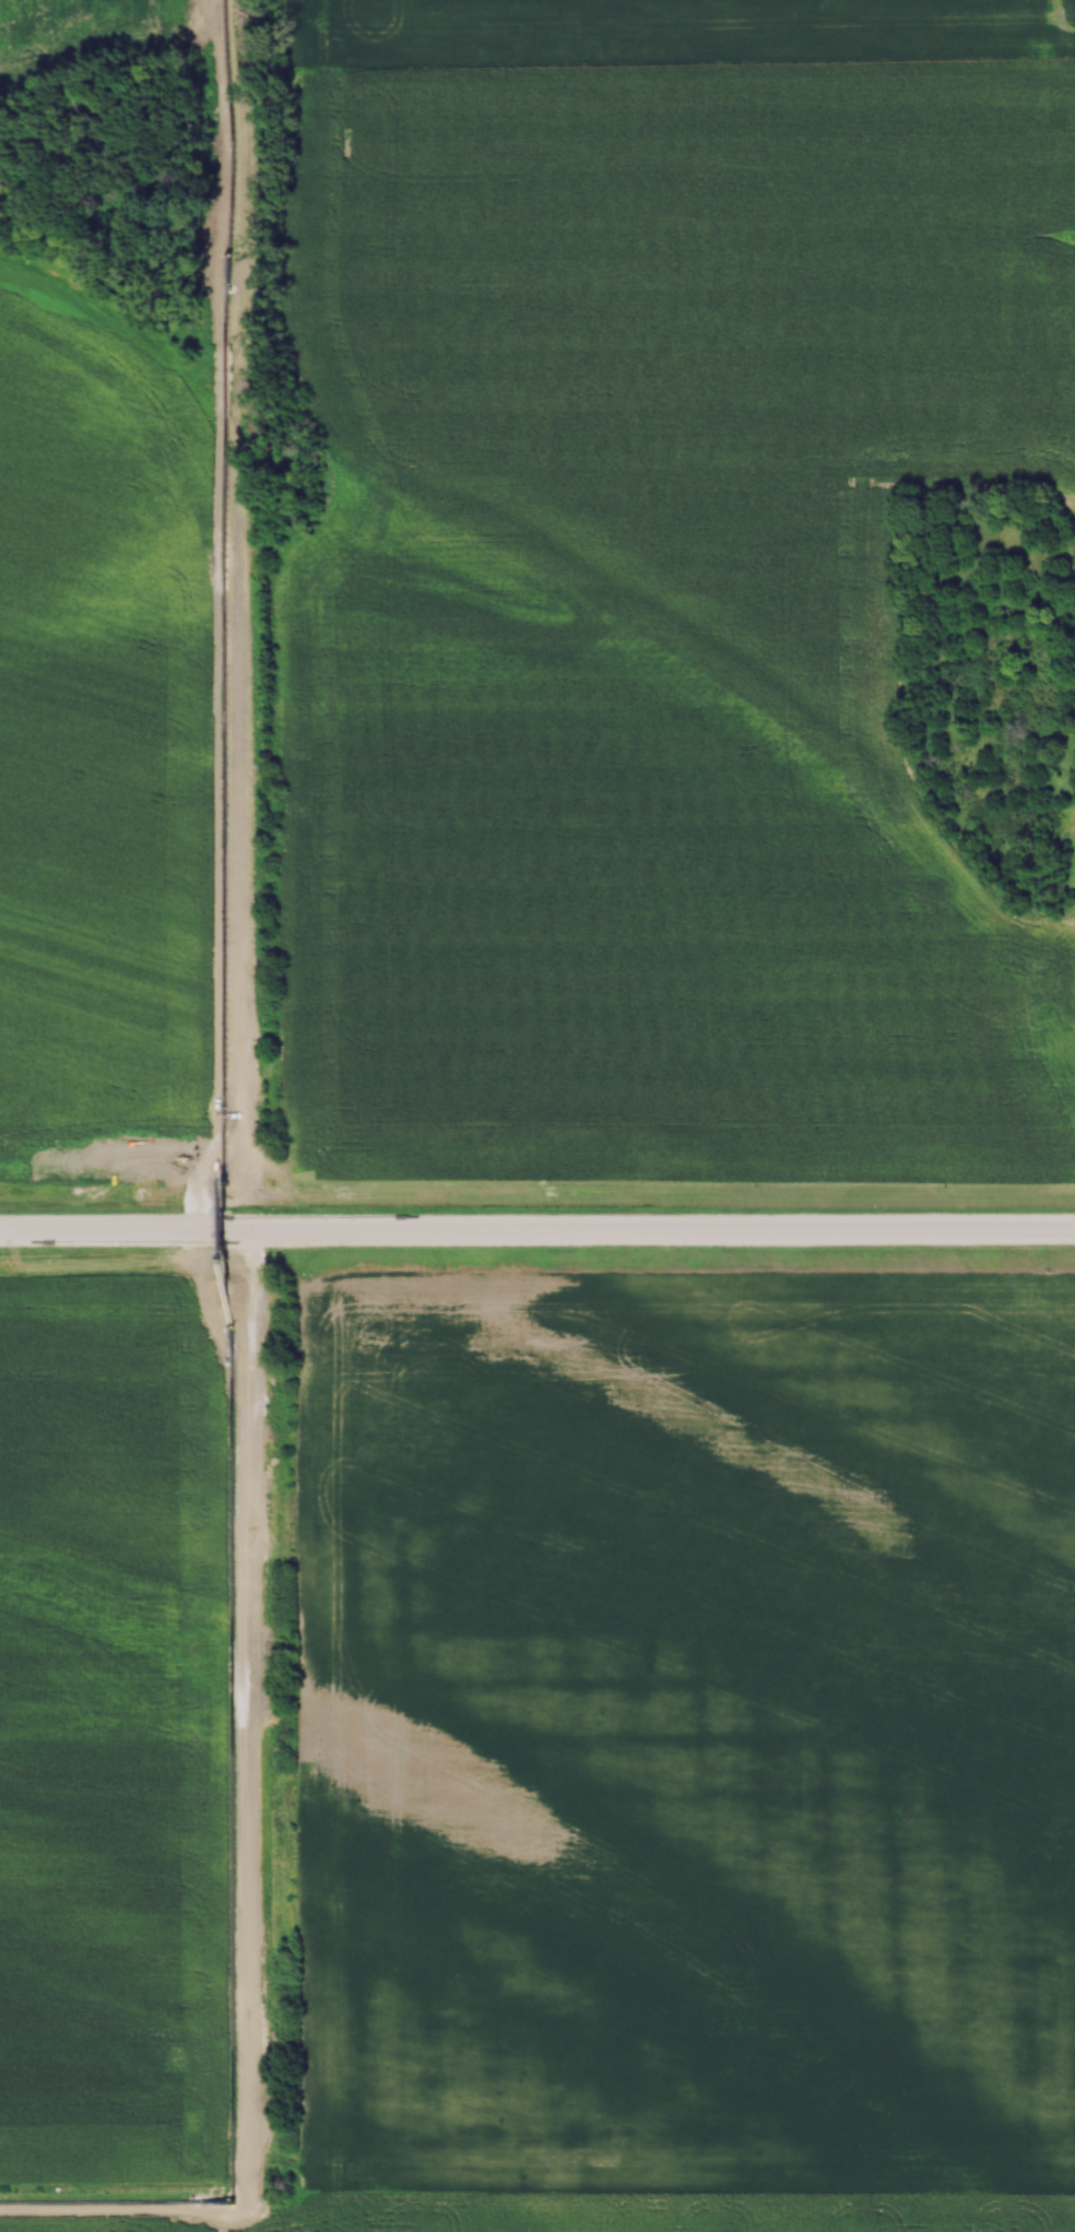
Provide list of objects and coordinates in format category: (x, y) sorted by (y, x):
road: (537, 1231)

